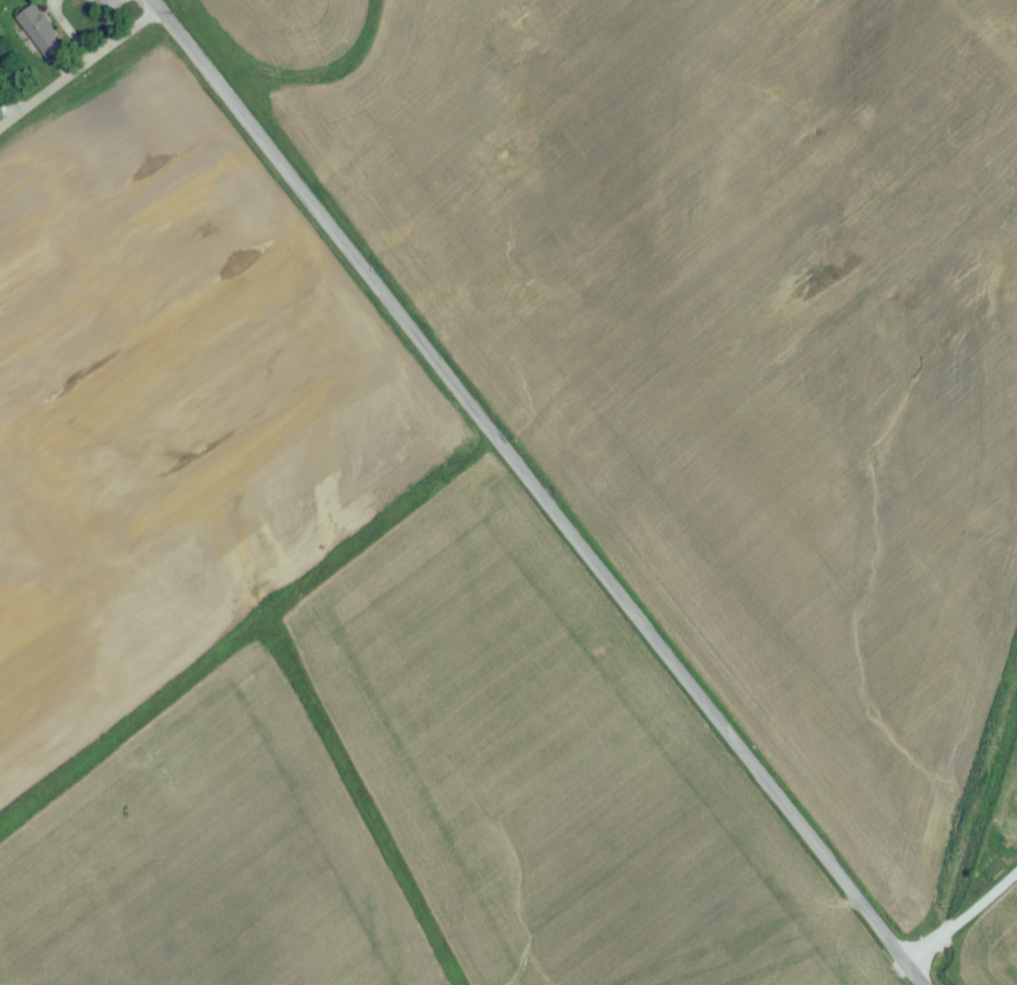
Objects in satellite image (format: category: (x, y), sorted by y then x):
road: (108, 19)
building: (42, 39)
road: (77, 67)
building: (1, 112)
road: (541, 492)
road: (967, 915)

